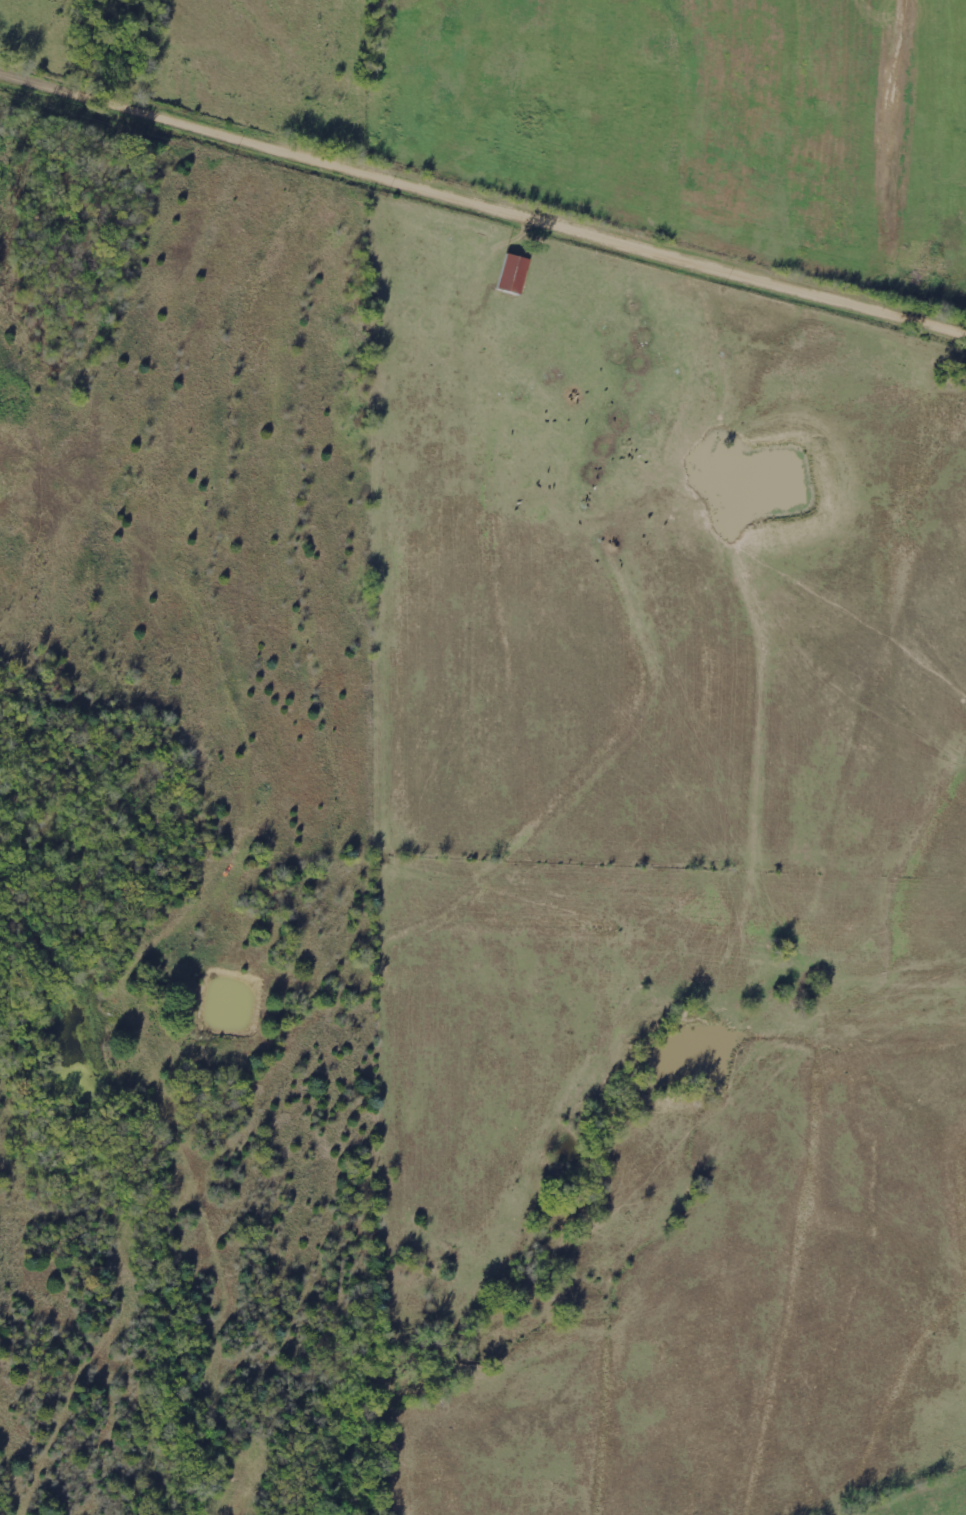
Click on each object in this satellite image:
road: (482, 206)

